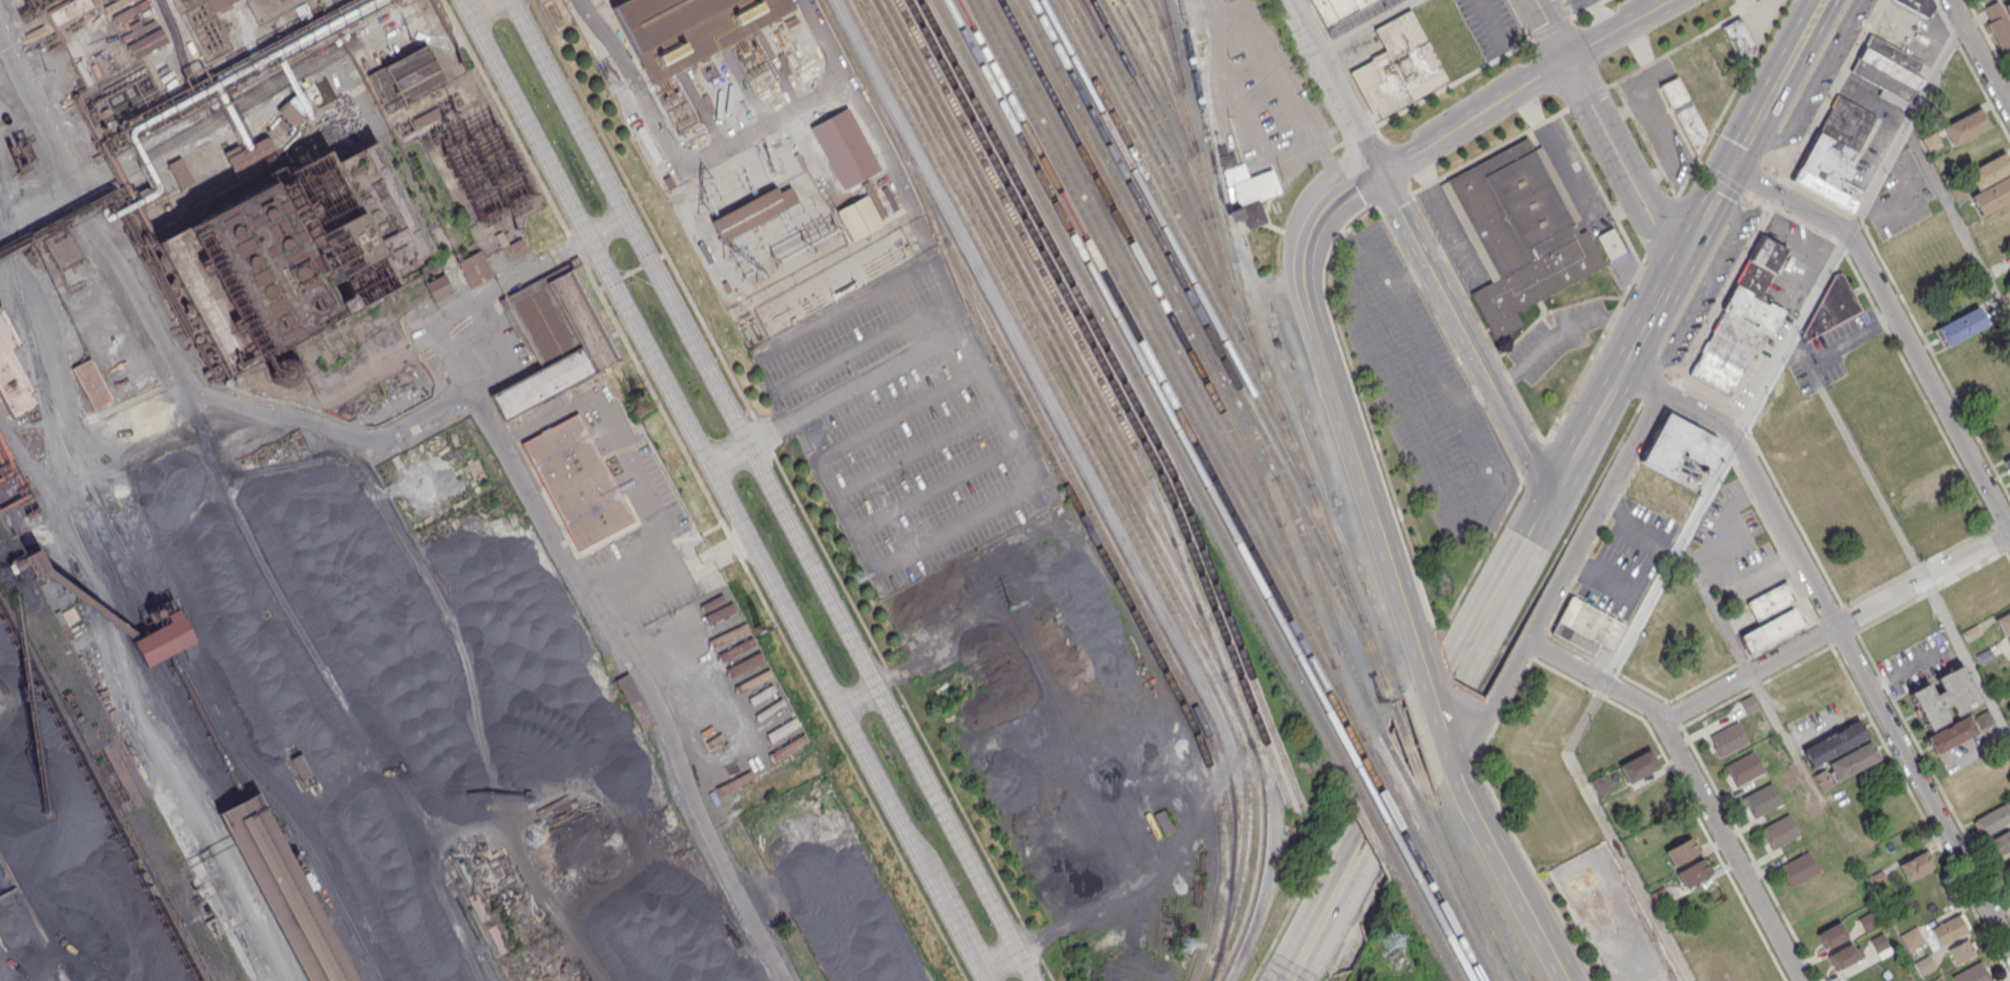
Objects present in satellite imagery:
building: (115, 0)
road: (1951, 1)
building: (218, 4)
parking lot: (1579, 4)
building: (115, 5)
road: (479, 5)
building: (1918, 6)
road: (1216, 7)
power substation: (270, 8)
building: (1337, 9)
building: (130, 11)
railway: (1158, 12)
railway: (1165, 12)
road: (1601, 17)
road: (1809, 23)
building: (1999, 23)
parking lot: (1490, 25)
road: (1365, 26)
building: (687, 29)
road: (1620, 29)
building: (141, 36)
building: (1739, 39)
railway: (1168, 42)
road: (1971, 43)
railway: (1156, 44)
building: (96, 66)
building: (1398, 66)
road: (1785, 68)
building: (1888, 70)
road: (780, 73)
railway: (1160, 75)
railway: (1172, 77)
building: (405, 79)
road: (2002, 82)
road: (1335, 85)
power tower: (612, 88)
road: (1810, 90)
road: (749, 91)
road: (2002, 100)
railway: (1168, 104)
railway: (1149, 108)
building: (290, 113)
road: (703, 113)
building: (1685, 114)
road: (1475, 116)
building: (426, 117)
road: (870, 121)
building: (1965, 127)
road: (1752, 130)
road: (1605, 131)
road: (1906, 131)
railway: (1146, 141)
road: (1296, 141)
railway: (1175, 142)
power plant: (759, 150)
building: (1834, 151)
building: (787, 152)
road: (682, 155)
building: (251, 158)
road: (1327, 161)
building: (865, 162)
power substation: (478, 163)
railway: (1169, 165)
traffic signals: (1730, 170)
building: (183, 178)
railway: (1216, 183)
building: (1990, 183)
building: (880, 193)
road: (1337, 193)
building: (1252, 194)
building: (787, 196)
road: (1908, 201)
power substation: (775, 208)
railway: (1171, 208)
road: (39, 209)
building: (747, 213)
railway: (1128, 220)
road: (1958, 225)
building: (1519, 234)
railway: (1180, 242)
building: (1610, 245)
building: (62, 248)
building: (293, 254)
road: (663, 255)
road: (651, 261)
traffic signals: (651, 262)
railway: (1140, 262)
railway: (14, 267)
building: (475, 269)
road: (632, 271)
railway: (1032, 271)
road: (1411, 274)
railway: (1189, 276)
road: (613, 282)
traffic signals: (613, 282)
building: (438, 287)
road: (601, 288)
road: (1704, 291)
railway: (1148, 296)
railway: (1039, 305)
railway: (1196, 309)
building: (1827, 310)
road: (460, 312)
building: (1742, 318)
road: (1897, 323)
building: (1960, 328)
road: (1557, 330)
railway: (1156, 332)
road: (1637, 332)
road: (1465, 335)
building: (554, 338)
railway: (1047, 338)
road: (1851, 339)
railway: (1203, 343)
road: (863, 344)
road: (165, 346)
road: (1799, 352)
railway: (1259, 359)
railway: (1055, 372)
building: (11, 376)
railway: (1169, 376)
railway: (1161, 380)
building: (91, 385)
railway: (1152, 386)
railway: (1104, 388)
railway: (1144, 391)
railway: (1131, 394)
railway: (1119, 396)
road: (1474, 397)
road: (835, 398)
road: (1343, 417)
road: (128, 420)
parking lot: (907, 424)
building: (1681, 447)
road: (919, 450)
road: (1726, 460)
building: (2007, 463)
railway: (1076, 467)
road: (1864, 470)
railway: (1102, 477)
building: (576, 480)
road: (293, 484)
railway: (90, 486)
road: (937, 487)
road: (705, 490)
road: (722, 490)
road: (773, 490)
road: (792, 490)
road: (1013, 499)
road: (1491, 500)
railway: (86, 513)
railway: (87, 544)
road: (1670, 546)
railway: (1287, 548)
railway: (1112, 554)
road: (1517, 559)
road: (1710, 559)
railway: (1105, 560)
building: (27, 562)
road: (1648, 568)
power tower: (856, 576)
road: (675, 580)
road: (1561, 580)
building: (1771, 601)
power tower: (1007, 604)
railway: (1326, 605)
building: (719, 612)
road: (102, 617)
building: (2003, 621)
building: (1702, 622)
road: (1411, 626)
road: (1835, 626)
building: (1587, 627)
building: (1769, 630)
road: (1838, 634)
railway: (169, 636)
building: (163, 637)
building: (2009, 641)
railway: (40, 642)
railway: (149, 646)
road: (623, 649)
road: (1967, 657)
railway: (69, 674)
road: (330, 687)
building: (1945, 699)
road: (859, 700)
road: (1437, 704)
building: (1749, 704)
road: (449, 716)
railway: (190, 731)
road: (1404, 736)
building: (1952, 736)
building: (1728, 738)
building: (1835, 743)
road: (1430, 752)
railway: (1410, 753)
road: (1455, 761)
building: (1853, 761)
railway: (128, 765)
building: (1639, 766)
building: (301, 767)
building: (1744, 768)
railway: (1400, 771)
road: (1693, 783)
building: (1602, 785)
railway: (1390, 791)
railway: (1386, 799)
building: (1762, 800)
railway: (283, 811)
railway: (1379, 811)
building: (1992, 821)
building: (1163, 822)
railway: (1374, 822)
road: (1483, 825)
building: (1779, 831)
road: (1611, 833)
building: (1682, 851)
building: (1915, 866)
building: (1798, 869)
building: (1693, 873)
building: (2009, 886)
building: (283, 889)
railway: (280, 890)
railway: (1467, 891)
railway: (271, 892)
railway: (1255, 892)
railway: (1459, 897)
railway: (1451, 905)
railway: (1445, 909)
railway: (1435, 915)
railway: (1427, 920)
road: (1319, 925)
building: (1950, 930)
road: (1541, 931)
railway: (474, 932)
building: (1832, 935)
power tower: (1391, 938)
building: (1912, 938)
power tower: (1188, 941)
building: (1961, 951)
building: (1843, 957)
road: (998, 962)
building: (1925, 965)
railway: (492, 967)
building: (1972, 974)

